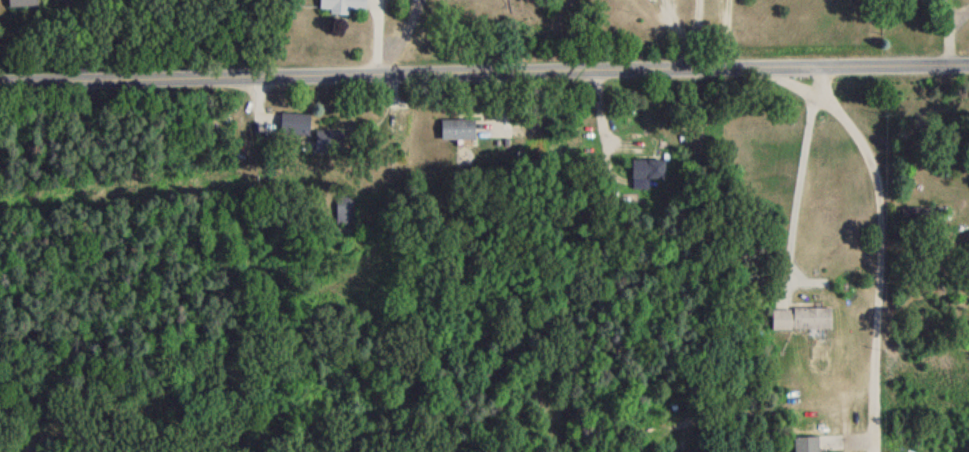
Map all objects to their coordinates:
building: (915, 2)
building: (20, 5)
building: (342, 8)
road: (660, 23)
road: (691, 25)
road: (947, 32)
road: (376, 38)
road: (681, 60)
road: (484, 74)
building: (293, 130)
building: (456, 135)
building: (326, 146)
road: (865, 159)
building: (645, 177)
road: (796, 191)
building: (342, 215)
building: (910, 221)
road: (878, 313)
building: (799, 324)
building: (805, 447)

